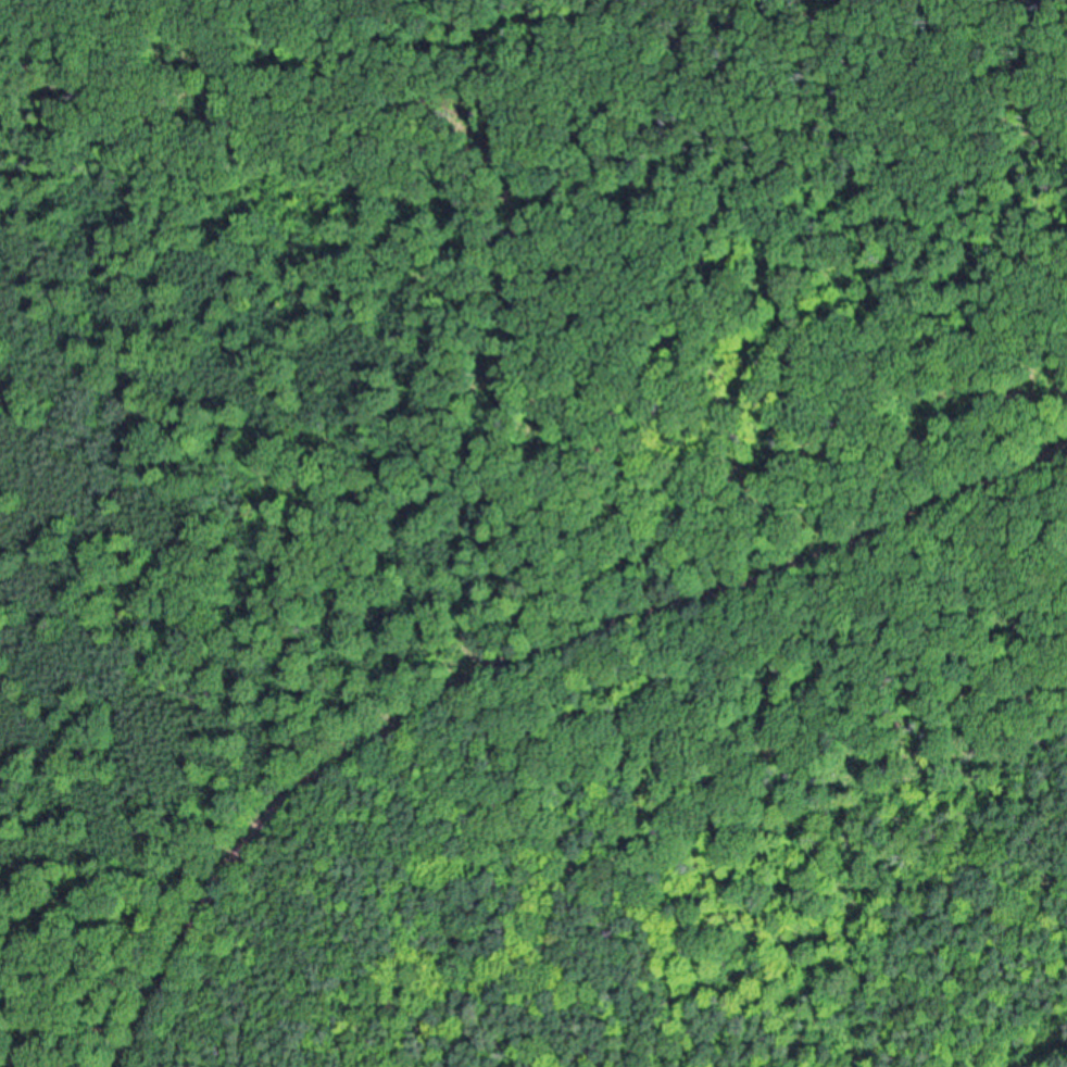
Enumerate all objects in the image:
road: (520, 663)

